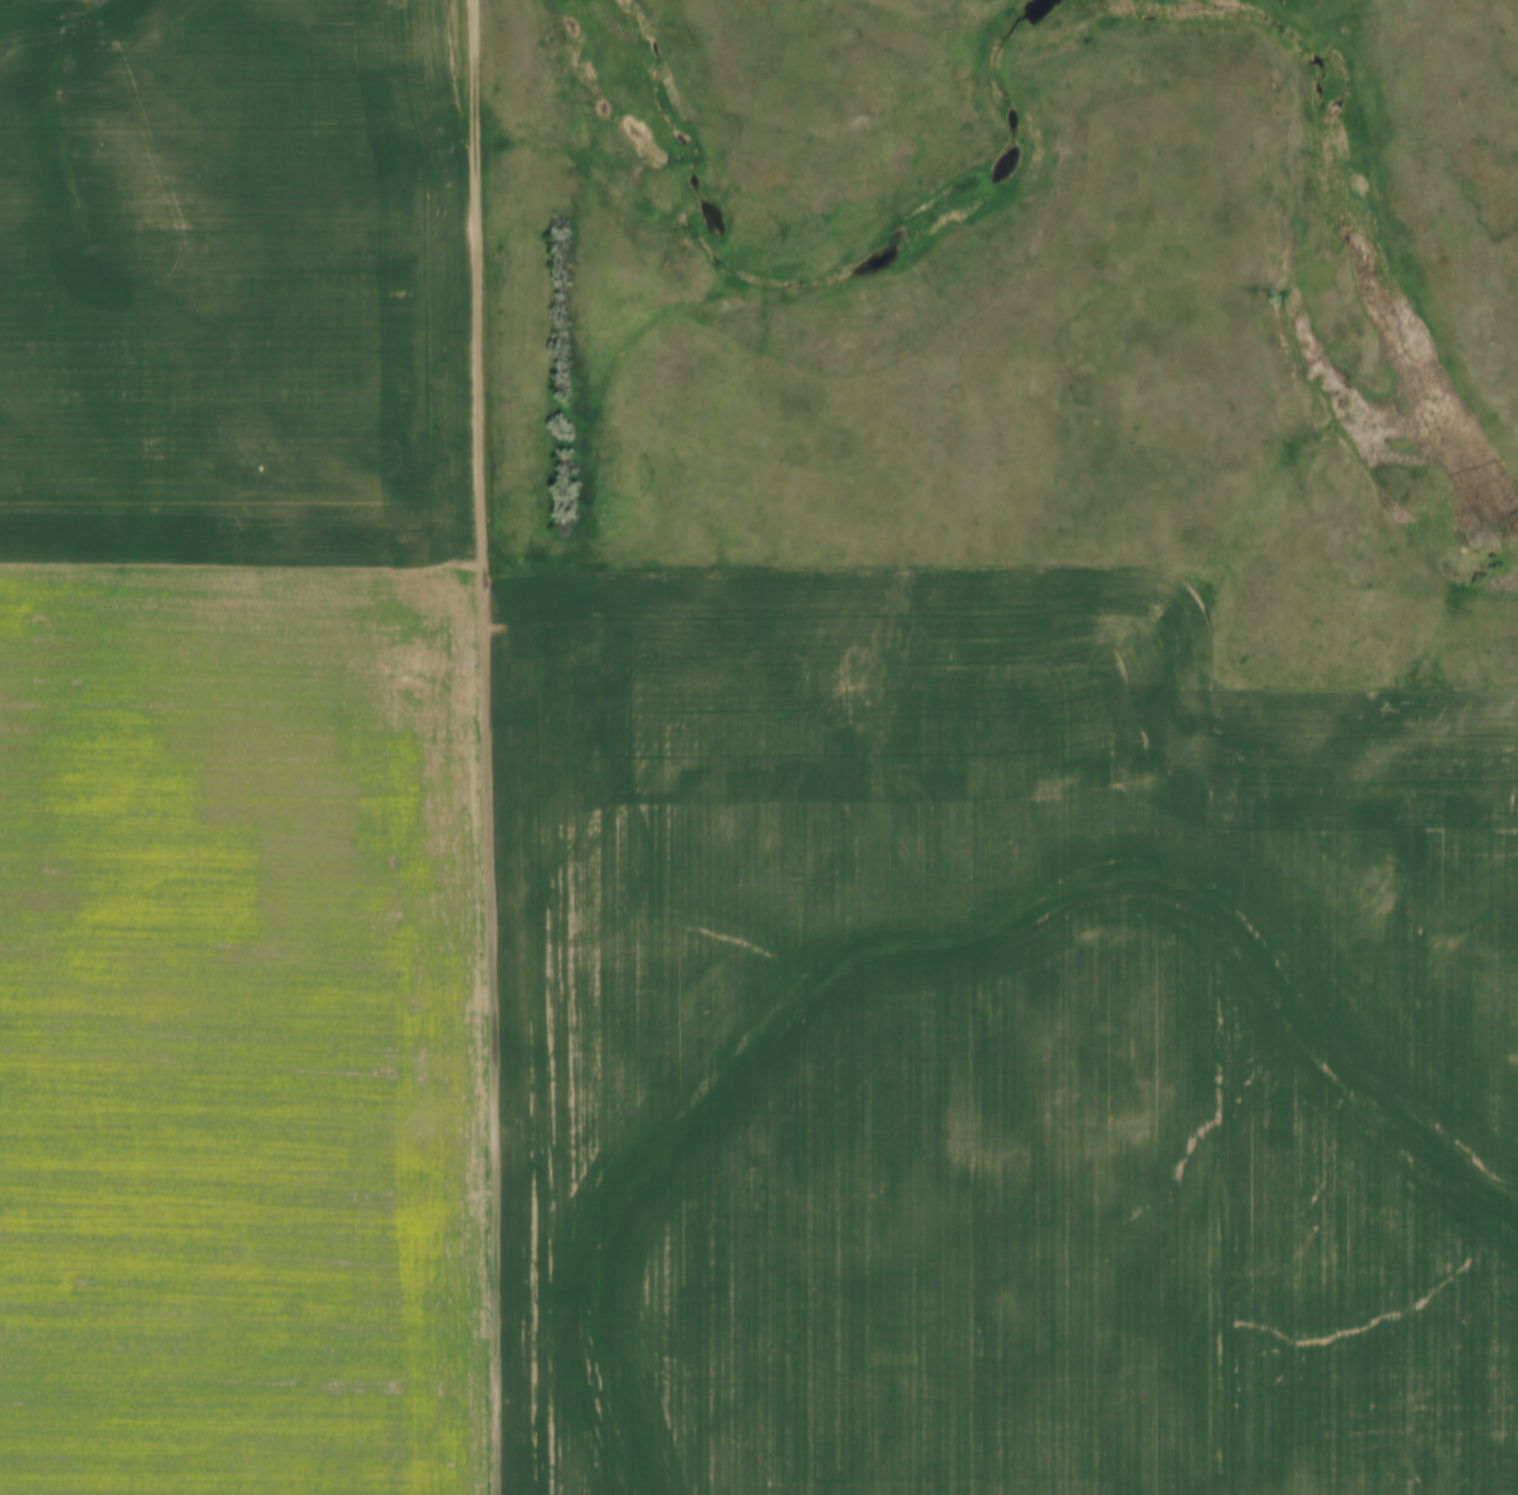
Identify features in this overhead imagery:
road: (485, 747)

